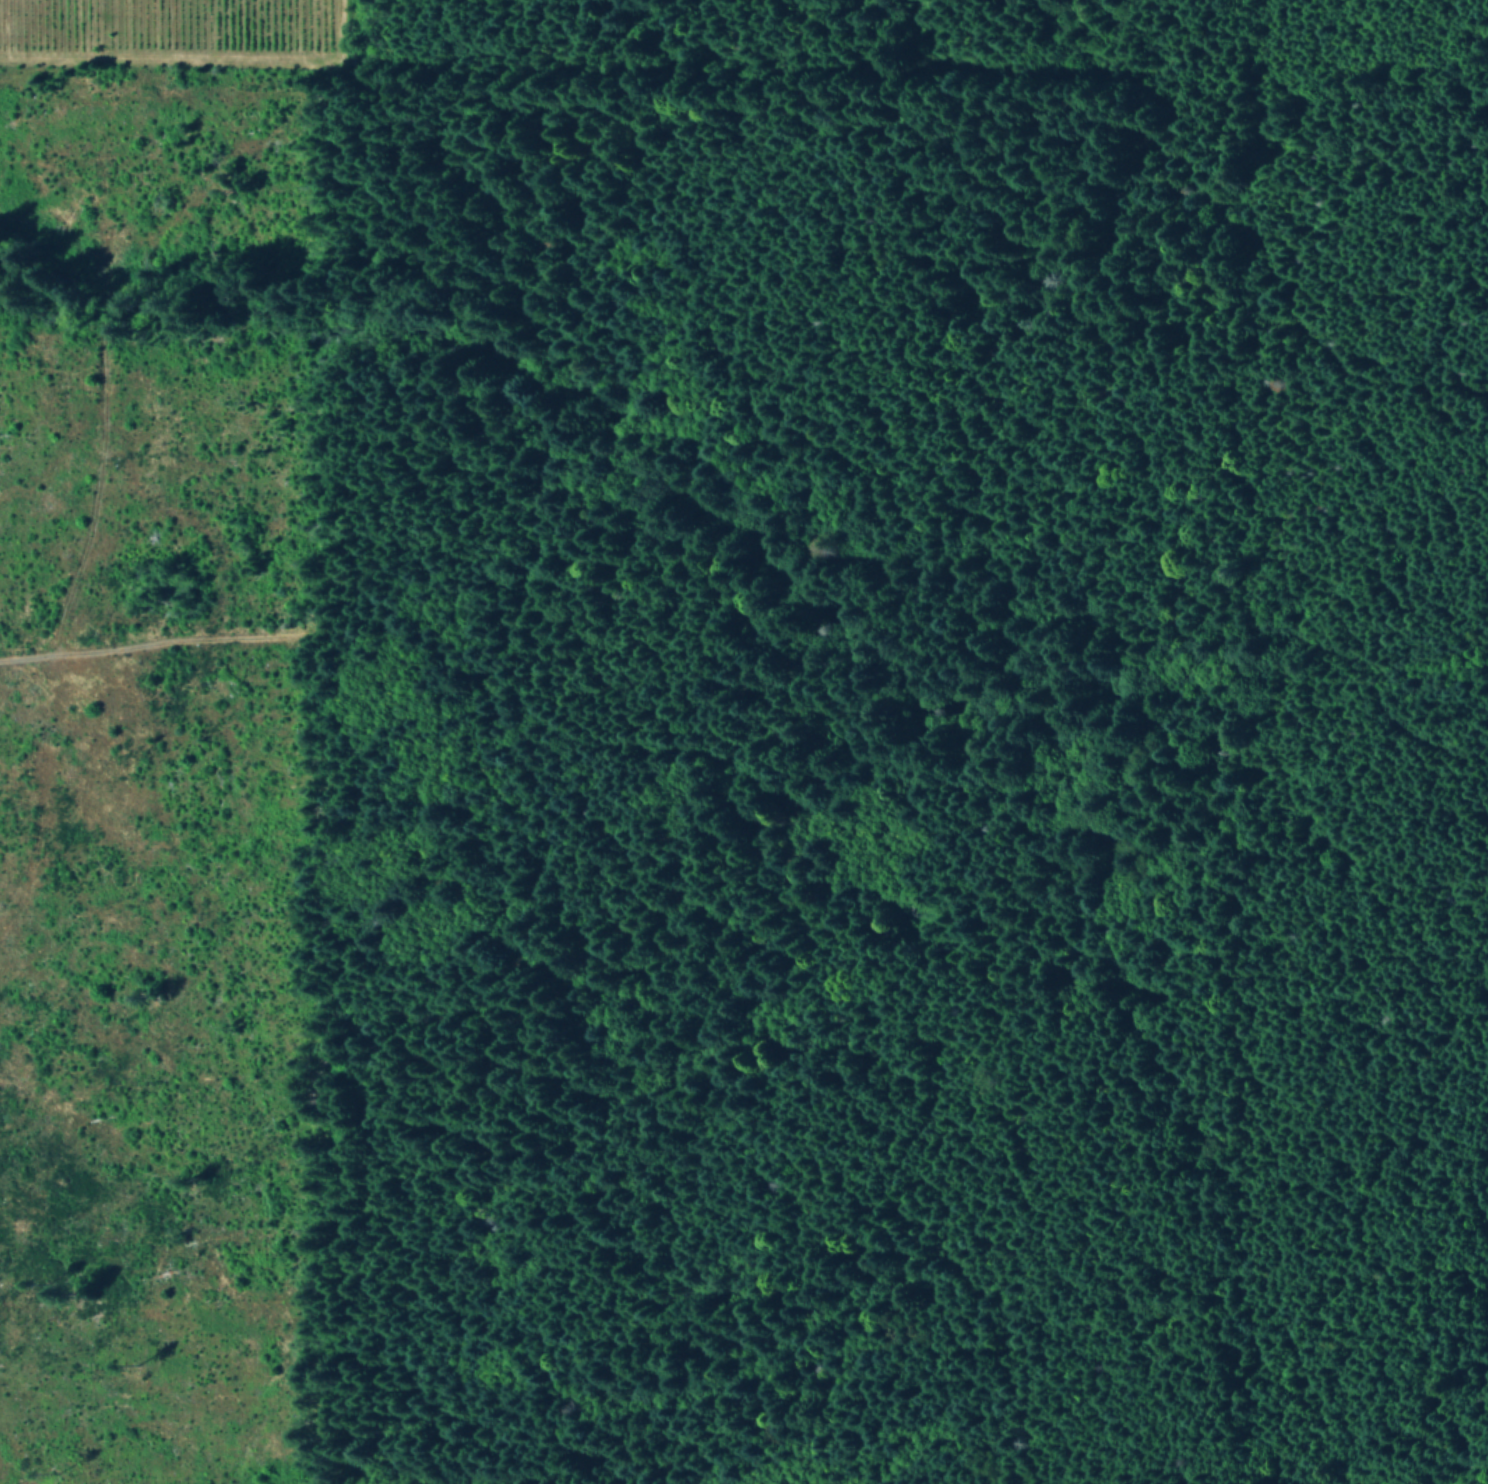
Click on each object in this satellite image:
road: (140, 1284)

